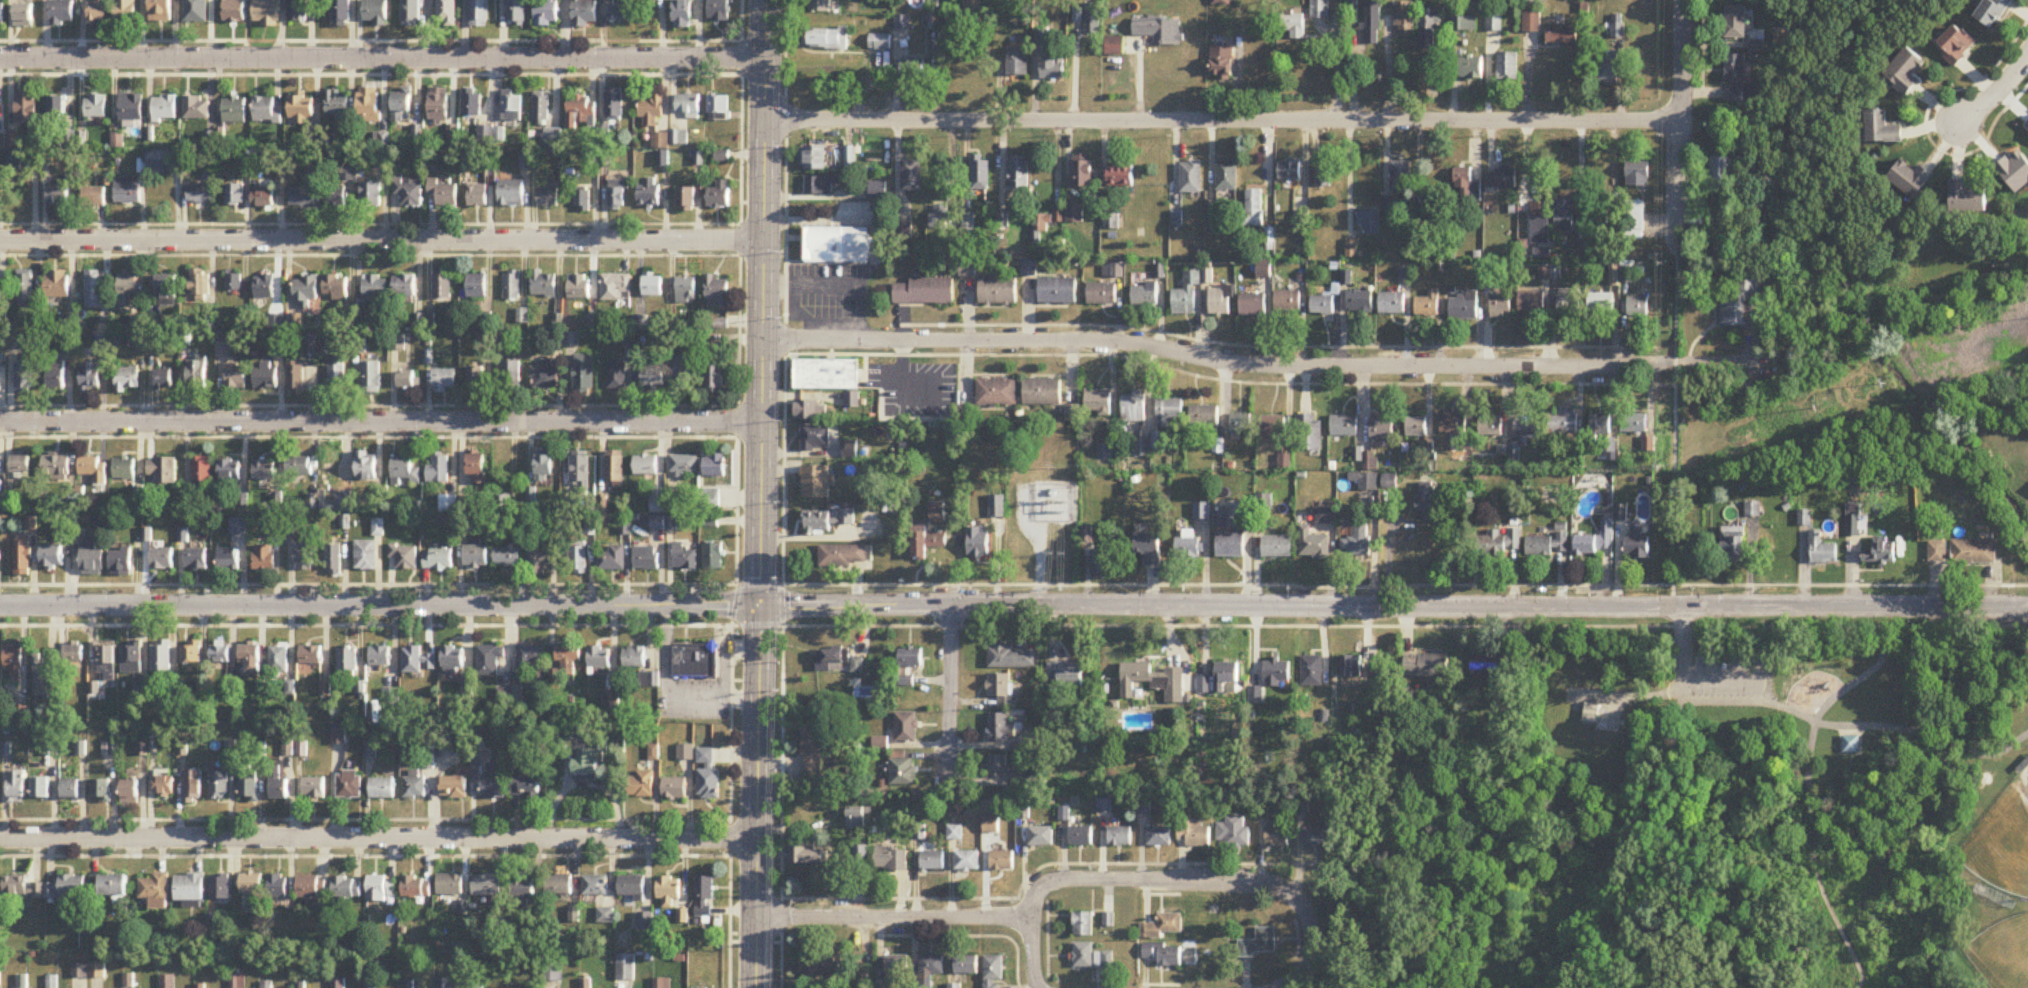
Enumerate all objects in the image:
building: (819, 6)
building: (1319, 9)
building: (162, 11)
building: (197, 11)
building: (235, 11)
building: (300, 11)
building: (720, 11)
building: (126, 12)
building: (377, 12)
building: (1995, 12)
building: (63, 13)
building: (268, 13)
building: (412, 13)
building: (448, 13)
building: (480, 13)
building: (518, 13)
building: (547, 13)
building: (586, 13)
building: (621, 13)
building: (2, 14)
building: (100, 14)
building: (342, 14)
building: (683, 14)
building: (25, 16)
building: (1403, 17)
building: (1092, 20)
building: (1494, 23)
building: (1532, 23)
building: (1736, 23)
building: (1464, 24)
building: (1429, 25)
building: (1293, 26)
building: (1370, 27)
building: (1159, 30)
building: (1562, 35)
road: (371, 39)
building: (825, 40)
building: (880, 43)
building: (1957, 46)
road: (382, 57)
building: (1222, 63)
building: (1017, 64)
building: (1508, 67)
building: (1470, 68)
building: (913, 70)
building: (1053, 71)
road: (371, 73)
building: (1610, 73)
building: (1906, 73)
building: (1736, 79)
road: (1994, 89)
building: (615, 105)
building: (340, 106)
building: (370, 106)
building: (440, 106)
building: (97, 107)
building: (473, 107)
building: (690, 107)
building: (133, 108)
building: (542, 108)
building: (719, 108)
building: (166, 109)
building: (198, 109)
building: (403, 109)
building: (513, 109)
building: (28, 110)
building: (59, 110)
building: (303, 110)
building: (236, 112)
building: (268, 112)
building: (580, 112)
building: (653, 114)
road: (1222, 119)
road: (1680, 122)
building: (1883, 129)
building: (812, 159)
building: (850, 159)
building: (378, 161)
building: (160, 163)
building: (1290, 172)
building: (980, 174)
building: (1019, 174)
building: (1081, 174)
building: (1722, 174)
building: (1323, 175)
building: (1638, 175)
building: (1401, 176)
building: (912, 177)
building: (1226, 177)
building: (1121, 178)
building: (1191, 178)
building: (1501, 178)
building: (1911, 180)
building: (823, 186)
building: (1467, 186)
building: (1, 190)
building: (127, 191)
building: (409, 191)
building: (878, 192)
building: (649, 193)
building: (444, 194)
building: (511, 194)
building: (200, 195)
building: (617, 195)
building: (235, 196)
building: (370, 196)
building: (478, 196)
building: (719, 196)
building: (59, 197)
building: (335, 197)
building: (94, 198)
building: (302, 198)
building: (549, 198)
building: (263, 199)
building: (686, 200)
building: (1967, 200)
building: (582, 201)
building: (1253, 209)
building: (1074, 213)
building: (1564, 217)
building: (1598, 221)
road: (370, 222)
building: (1111, 222)
building: (1369, 222)
building: (1540, 224)
road: (381, 238)
building: (839, 247)
road: (369, 254)
building: (1263, 270)
building: (233, 283)
building: (544, 284)
building: (56, 285)
building: (511, 285)
building: (442, 286)
building: (476, 286)
building: (24, 287)
building: (264, 287)
building: (404, 287)
building: (579, 287)
building: (653, 287)
building: (617, 288)
building: (126, 289)
building: (94, 290)
building: (200, 290)
building: (374, 290)
building: (686, 290)
building: (717, 290)
building: (166, 291)
building: (335, 291)
road: (738, 291)
road: (785, 291)
building: (305, 292)
building: (998, 292)
building: (1058, 292)
building: (925, 293)
building: (1102, 295)
building: (1186, 295)
building: (1144, 296)
building: (1287, 301)
building: (1219, 302)
building: (1360, 302)
building: (1739, 302)
building: (1530, 303)
building: (1392, 304)
building: (1569, 304)
building: (1601, 304)
building: (1252, 305)
building: (1322, 305)
building: (1428, 305)
building: (1464, 306)
building: (1500, 307)
building: (1638, 307)
building: (297, 321)
building: (275, 323)
building: (275, 342)
road: (1281, 345)
road: (1204, 360)
road: (1674, 361)
road: (1701, 361)
building: (337, 373)
building: (683, 373)
building: (584, 374)
building: (55, 375)
building: (197, 375)
building: (616, 375)
building: (826, 375)
building: (265, 376)
building: (545, 376)
building: (23, 377)
building: (89, 377)
building: (371, 377)
building: (714, 377)
building: (235, 378)
building: (511, 378)
building: (653, 378)
building: (126, 379)
building: (164, 380)
building: (295, 380)
building: (409, 380)
building: (476, 380)
road: (1228, 380)
building: (444, 382)
parking lot: (913, 387)
building: (996, 392)
building: (1042, 392)
building: (1098, 402)
road: (368, 404)
building: (1133, 408)
building: (811, 409)
building: (1168, 411)
building: (1203, 416)
road: (380, 419)
building: (1564, 421)
building: (1240, 423)
building: (1635, 423)
building: (1344, 425)
building: (1491, 426)
building: (1272, 427)
building: (1416, 427)
building: (1458, 429)
building: (1382, 430)
building: (1603, 431)
building: (1309, 433)
road: (369, 435)
building: (1524, 436)
building: (816, 438)
building: (646, 464)
building: (684, 464)
building: (20, 465)
building: (298, 465)
building: (715, 465)
building: (56, 466)
building: (365, 466)
building: (615, 467)
building: (476, 468)
building: (123, 469)
building: (201, 469)
building: (544, 469)
building: (162, 470)
building: (229, 470)
building: (264, 470)
building: (438, 470)
building: (580, 470)
building: (94, 472)
building: (404, 472)
building: (1366, 481)
building: (817, 482)
road: (760, 494)
building: (711, 501)
power substation: (1056, 502)
building: (1427, 503)
building: (444, 505)
building: (664, 505)
building: (996, 507)
building: (1752, 510)
building: (937, 512)
building: (1620, 513)
building: (1607, 518)
building: (830, 520)
building: (1222, 520)
building: (1855, 522)
building: (664, 523)
building: (239, 526)
building: (64, 534)
building: (1357, 540)
building: (978, 542)
building: (1503, 542)
building: (1547, 544)
building: (1637, 544)
building: (921, 545)
building: (1230, 545)
building: (1313, 545)
building: (1733, 545)
building: (1277, 547)
building: (1148, 548)
building: (1188, 549)
building: (1820, 551)
building: (1974, 552)
building: (1879, 553)
building: (1937, 553)
building: (366, 555)
building: (843, 555)
building: (53, 556)
building: (92, 556)
building: (477, 556)
building: (713, 556)
building: (265, 557)
building: (305, 557)
building: (405, 557)
building: (684, 557)
building: (23, 558)
building: (507, 558)
building: (578, 558)
building: (163, 559)
building: (196, 559)
building: (229, 559)
building: (439, 559)
building: (539, 559)
building: (612, 559)
building: (647, 559)
building: (334, 560)
building: (121, 561)
road: (1039, 561)
building: (1104, 564)
road: (1015, 582)
traffic signals: (762, 603)
road: (933, 603)
road: (970, 603)
road: (1013, 603)
road: (1013, 624)
building: (220, 652)
building: (191, 654)
building: (74, 655)
building: (161, 656)
building: (310, 656)
building: (380, 656)
road: (725, 656)
building: (452, 657)
building: (635, 657)
building: (834, 657)
building: (911, 657)
building: (1011, 657)
building: (250, 658)
building: (531, 658)
building: (131, 659)
building: (599, 659)
building: (693, 659)
building: (13, 660)
building: (279, 660)
building: (347, 660)
building: (489, 660)
building: (568, 660)
building: (418, 661)
building: (107, 662)
building: (1426, 665)
building: (1351, 666)
building: (1489, 667)
building: (1312, 671)
building: (1277, 673)
building: (1066, 674)
parking lot: (1721, 679)
road: (1860, 679)
building: (649, 680)
building: (1221, 680)
building: (1153, 681)
building: (43, 682)
road: (1687, 682)
road: (1770, 688)
building: (1002, 689)
road: (951, 693)
road: (666, 696)
road: (1627, 698)
building: (1596, 712)
building: (20, 713)
road: (1615, 715)
road: (1667, 719)
building: (906, 727)
building: (1001, 728)
road: (1872, 728)
building: (1033, 742)
building: (1850, 745)
road: (1951, 745)
building: (812, 749)
road: (2002, 752)
building: (685, 753)
building: (586, 763)
building: (1002, 767)
building: (902, 770)
building: (707, 776)
building: (493, 781)
building: (249, 783)
building: (414, 784)
building: (219, 785)
building: (348, 785)
building: (640, 785)
road: (729, 785)
road: (780, 785)
building: (526, 786)
building: (16, 787)
building: (164, 787)
building: (192, 787)
building: (314, 787)
building: (453, 787)
building: (41, 788)
building: (279, 788)
building: (382, 788)
building: (70, 789)
building: (674, 789)
building: (101, 791)
building: (130, 792)
park: (1771, 803)
road: (364, 817)
building: (856, 819)
building: (990, 824)
building: (1193, 833)
building: (1234, 833)
road: (377, 835)
building: (1040, 836)
building: (1158, 836)
building: (1080, 837)
building: (1119, 837)
building: (1277, 838)
building: (1316, 838)
park: (2002, 841)
road: (364, 854)
building: (808, 856)
building: (860, 856)
building: (891, 859)
building: (932, 861)
building: (967, 861)
building: (1002, 861)
road: (1182, 880)
building: (251, 883)
building: (450, 885)
building: (487, 885)
building: (559, 885)
building: (277, 886)
building: (595, 886)
building: (112, 887)
building: (417, 887)
building: (631, 887)
building: (154, 888)
building: (189, 888)
building: (220, 888)
building: (347, 888)
building: (382, 888)
building: (523, 888)
building: (60, 889)
building: (311, 889)
building: (15, 891)
building: (668, 893)
building: (704, 898)
building: (606, 916)
road: (893, 916)
building: (1083, 925)
building: (1162, 927)
road: (1839, 929)
building: (1259, 944)
road: (1035, 953)
building: (1164, 954)
park: (2002, 954)
building: (1083, 955)
building: (1104, 960)
building: (966, 965)
building: (625, 968)
building: (818, 968)
building: (930, 968)
road: (1304, 969)
building: (895, 970)
building: (993, 972)
building: (662, 984)

